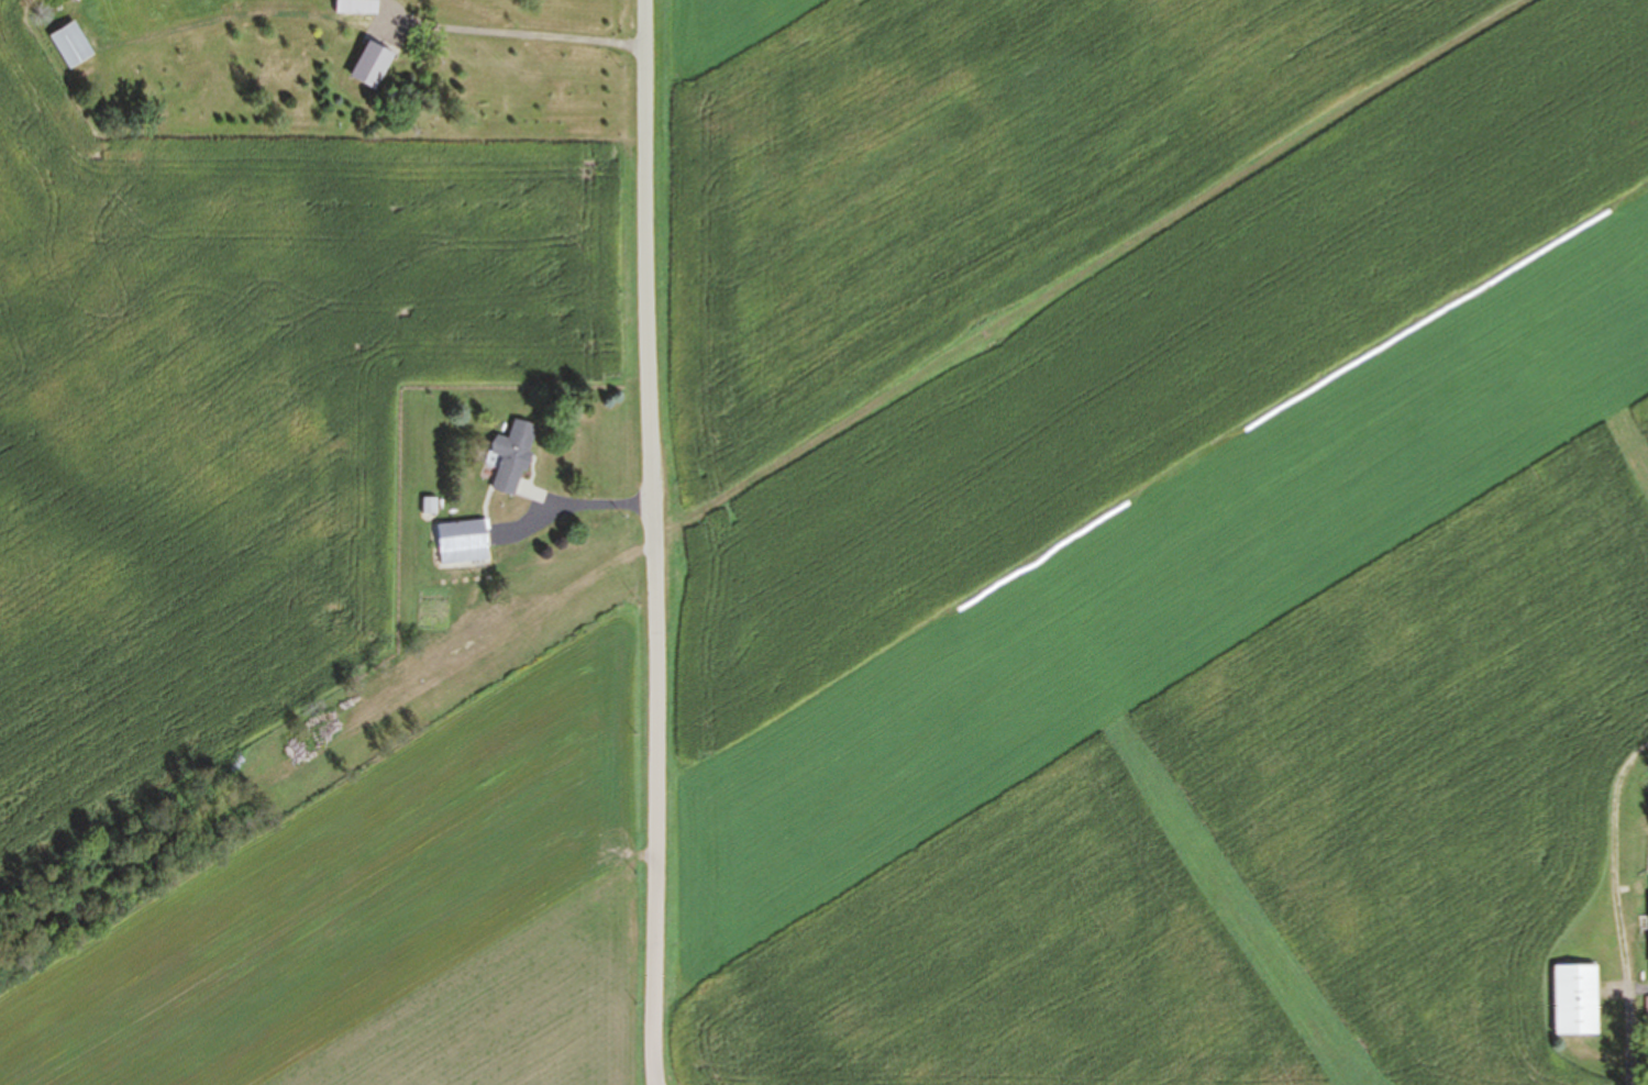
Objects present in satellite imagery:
building: (357, 7)
building: (373, 65)
building: (505, 456)
building: (455, 541)
road: (641, 545)
building: (1645, 923)
building: (1566, 999)
building: (1646, 1019)

